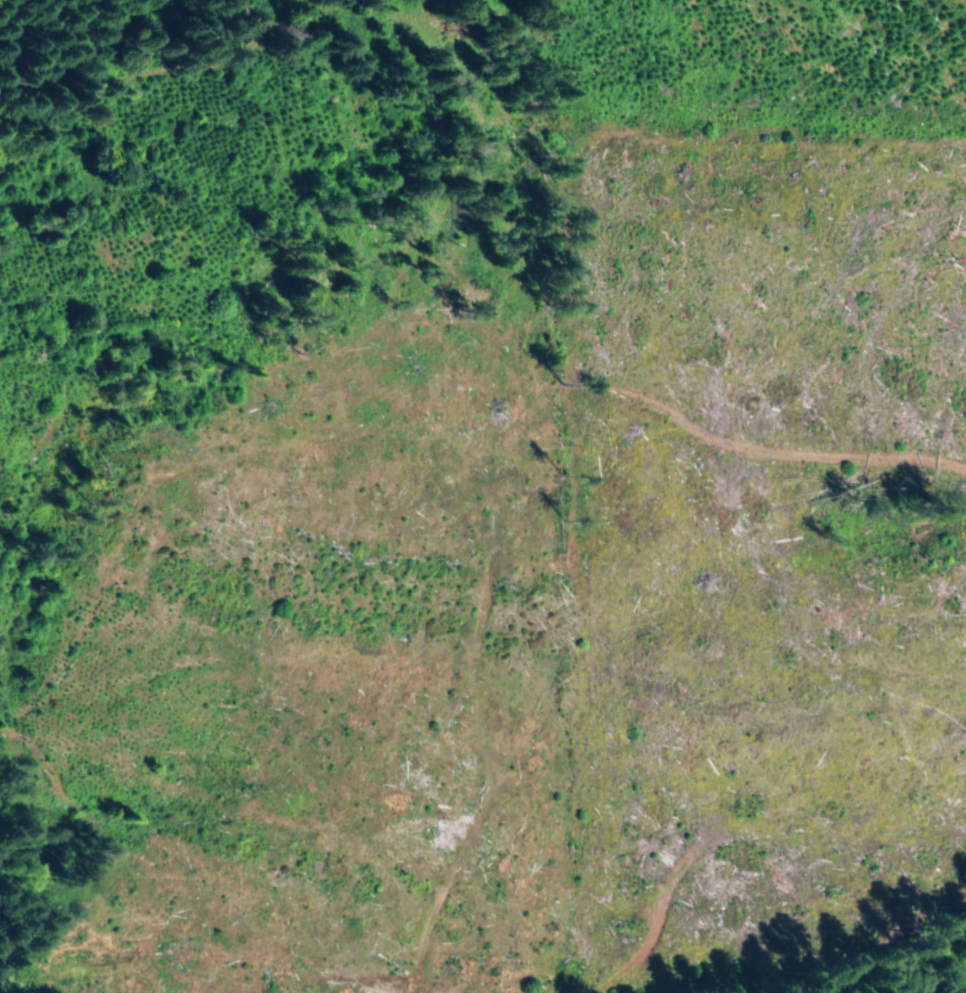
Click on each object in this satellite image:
road: (166, 64)
road: (577, 364)
road: (42, 373)
road: (210, 376)

